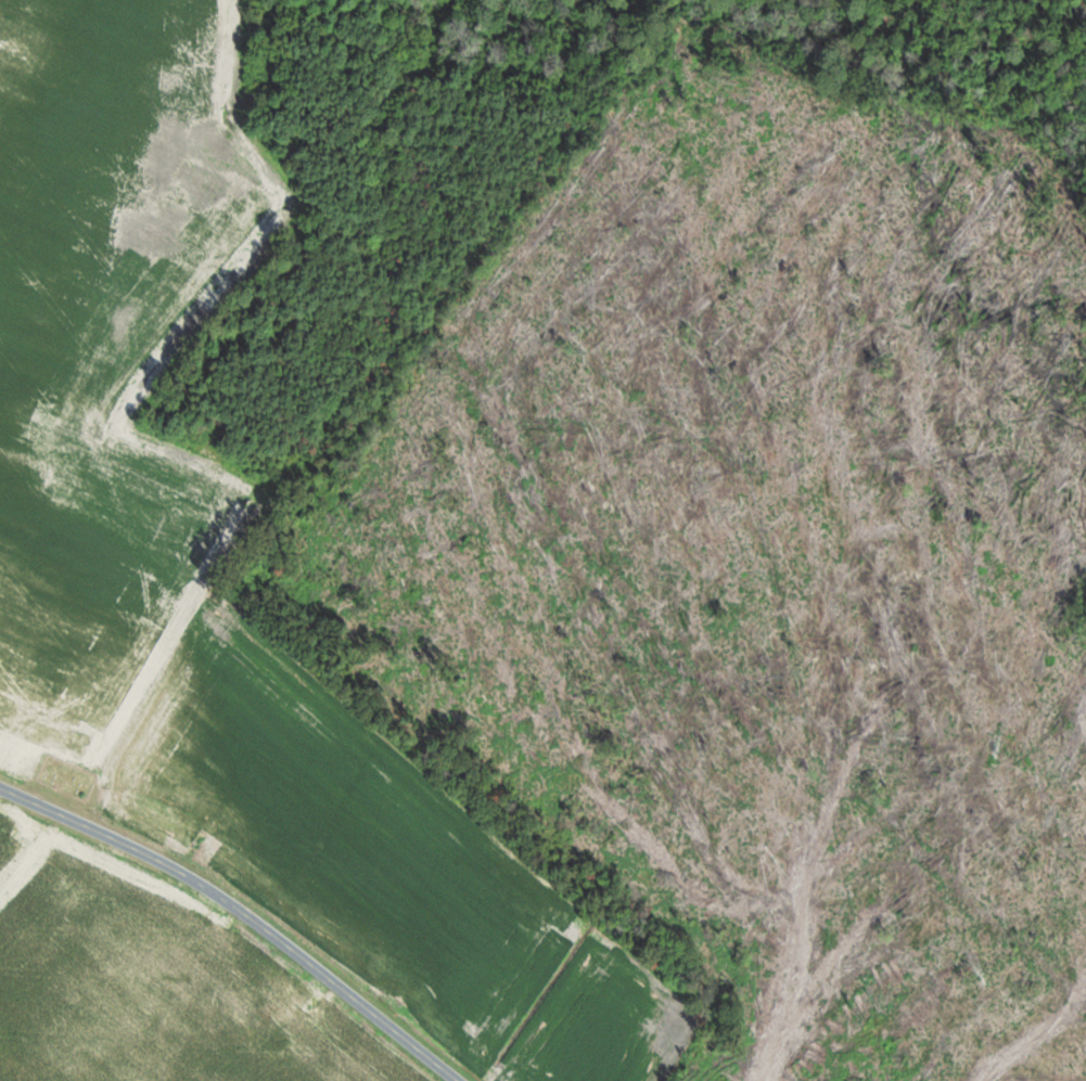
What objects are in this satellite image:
crop: (74, 172)
crop: (159, 350)
crop: (72, 647)
park: (67, 776)
crop: (8, 820)
crop: (337, 834)
road: (245, 910)
crop: (132, 987)
building: (288, 1015)
crop: (603, 1022)

